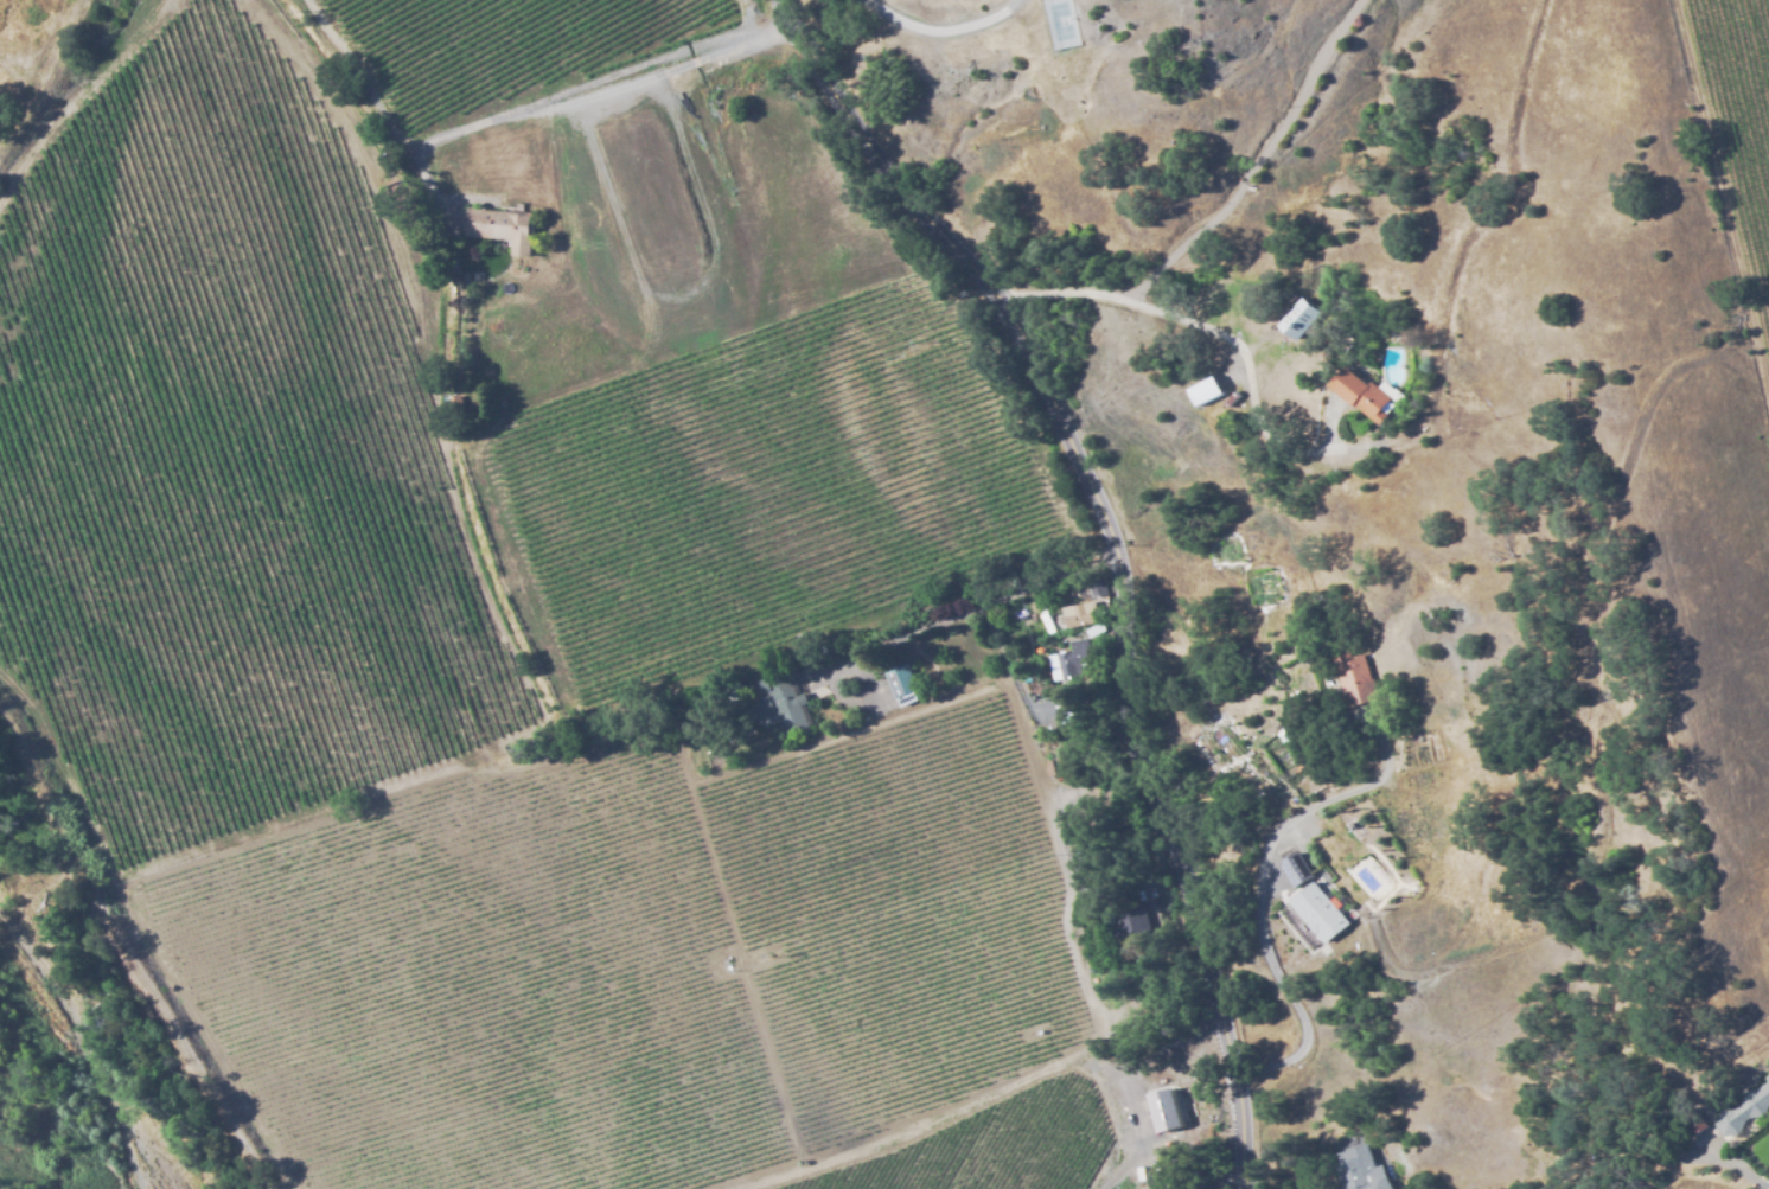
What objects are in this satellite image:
building: (500, 226)
building: (1297, 320)
road: (1224, 337)
building: (1203, 389)
building: (1387, 391)
building: (1360, 396)
road: (1115, 555)
building: (1079, 614)
building: (1066, 659)
building: (1352, 680)
building: (900, 685)
building: (780, 704)
building: (1296, 875)
building: (1318, 916)
building: (1125, 918)
building: (1768, 1076)
building: (1163, 1108)
building: (1744, 1110)
building: (1695, 1120)
building: (1358, 1170)

